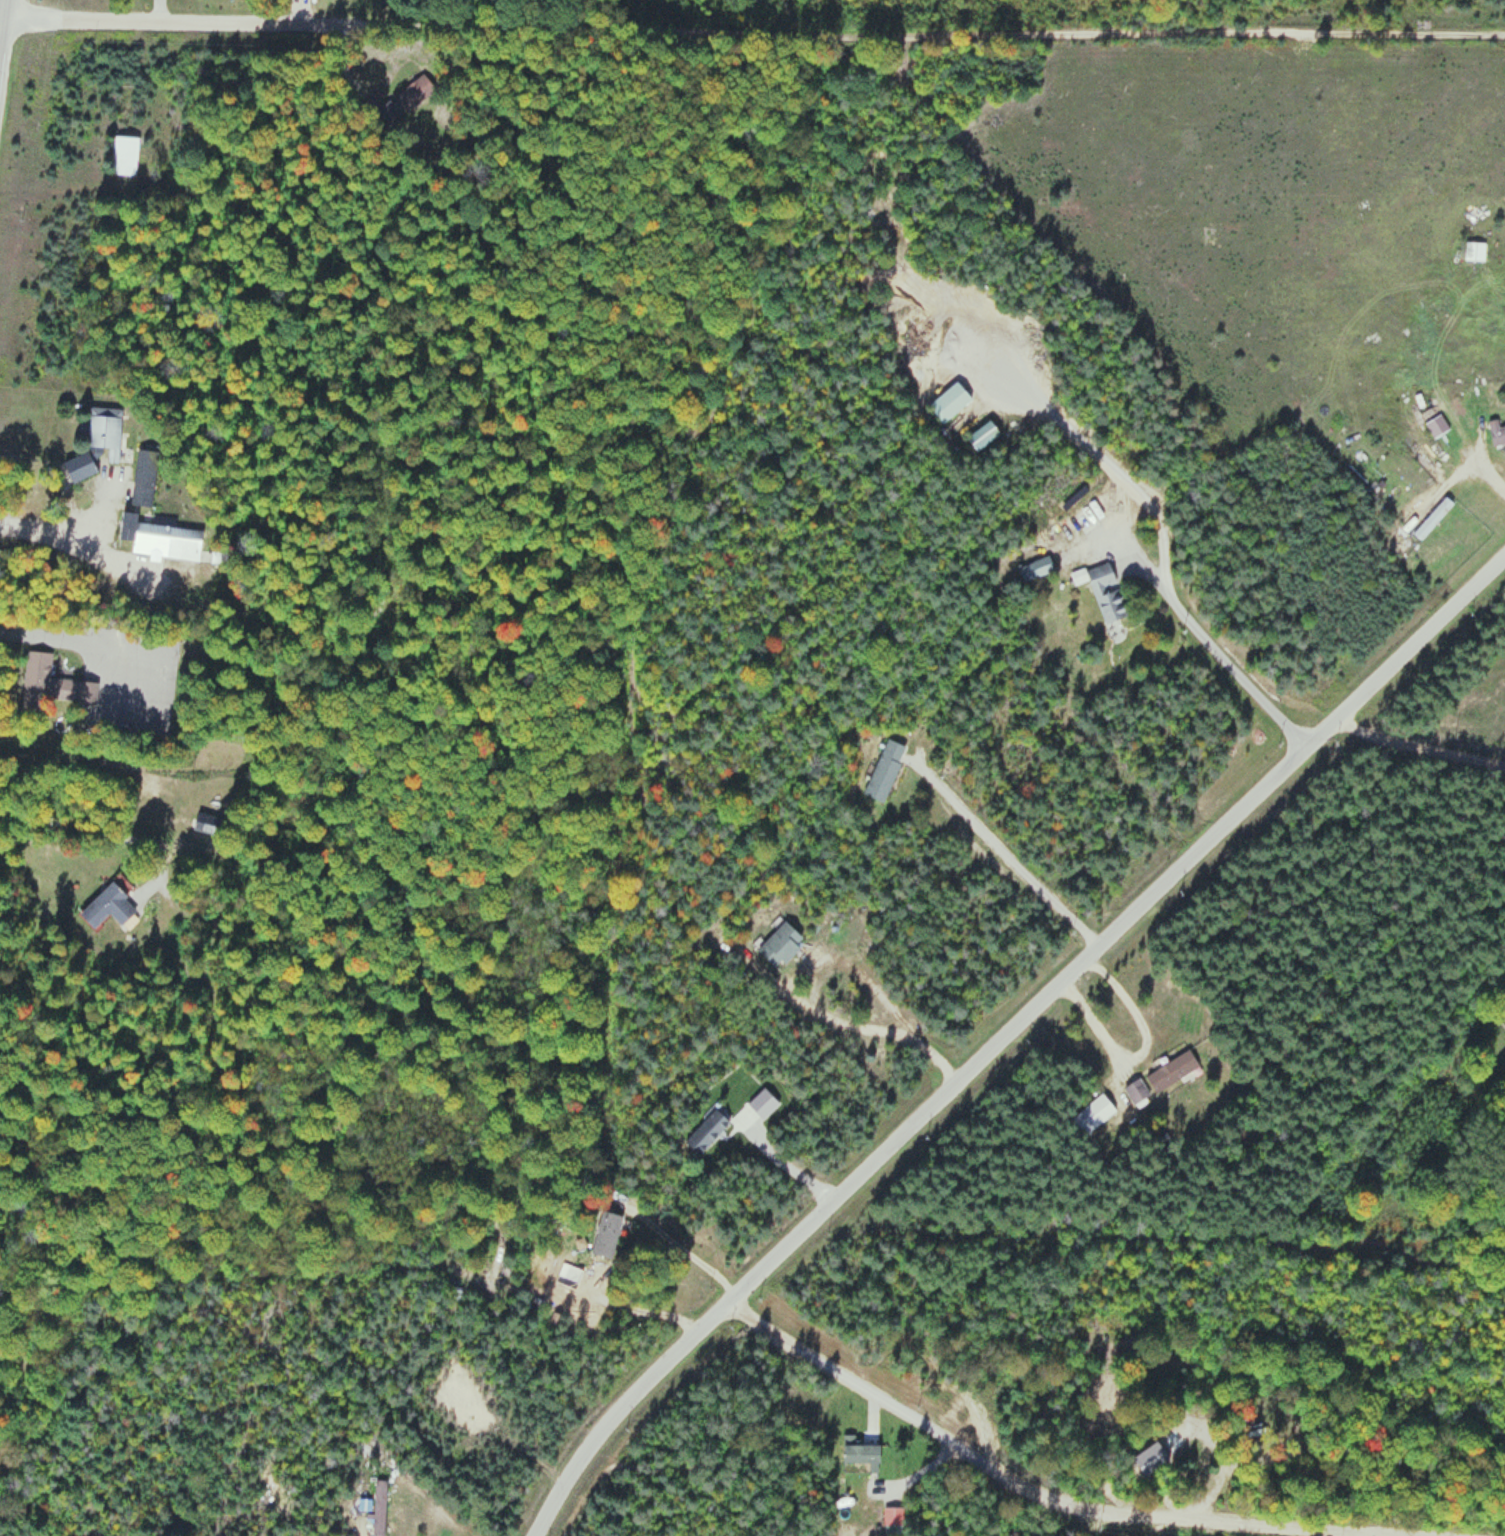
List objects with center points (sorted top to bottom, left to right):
road: (0, 1)
road: (264, 21)
road: (1016, 31)
building: (403, 102)
building: (125, 155)
building: (1474, 251)
building: (949, 402)
building: (1437, 426)
building: (1496, 432)
building: (983, 435)
building: (97, 442)
building: (144, 477)
building: (1433, 518)
building: (160, 539)
building: (1103, 591)
building: (51, 683)
building: (885, 770)
building: (204, 823)
building: (108, 908)
building: (780, 944)
road: (1004, 1030)
building: (1172, 1070)
building: (1136, 1090)
building: (1093, 1114)
building: (706, 1131)
building: (606, 1234)
building: (861, 1454)
road: (1063, 1504)
building: (379, 1508)
building: (892, 1516)

